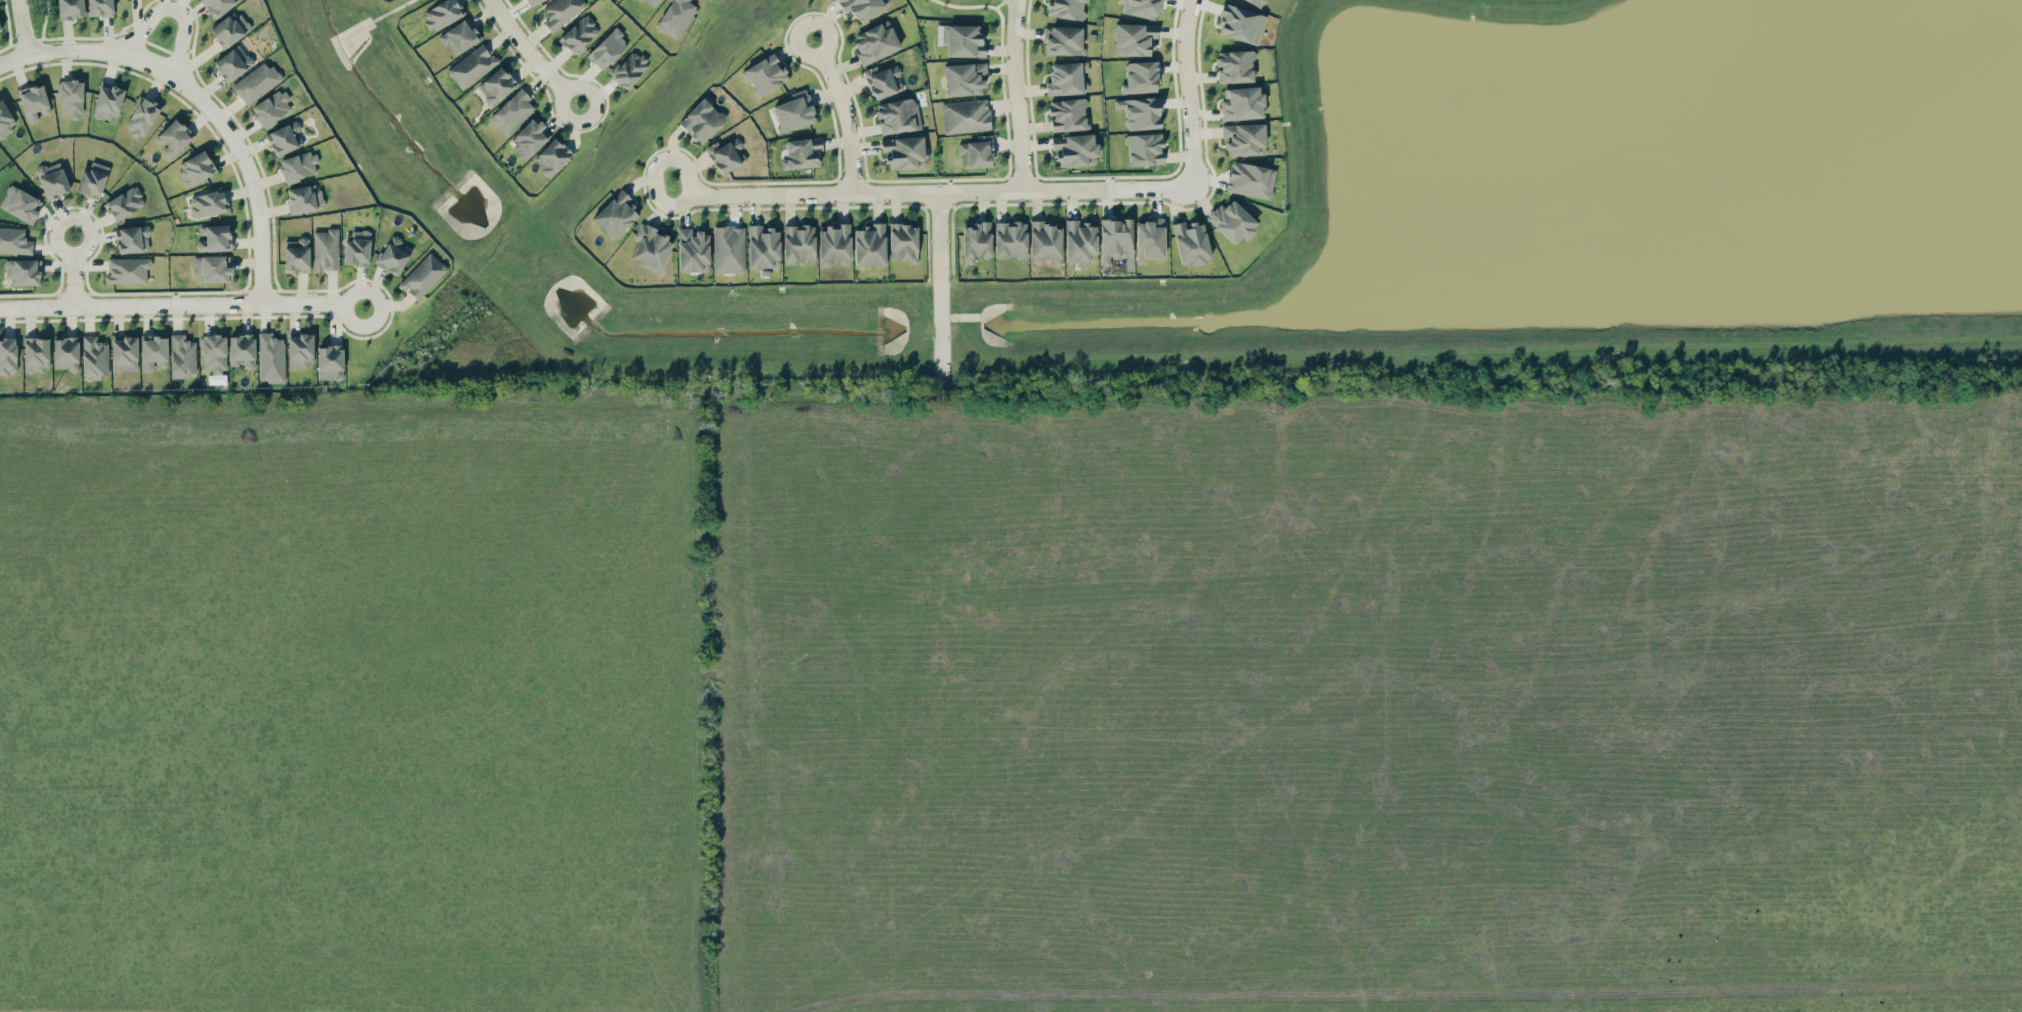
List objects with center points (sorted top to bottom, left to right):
building: (532, 1)
building: (651, 2)
building: (1257, 2)
building: (216, 6)
building: (100, 7)
building: (862, 7)
building: (1066, 8)
building: (1142, 8)
building: (70, 9)
road: (174, 10)
building: (560, 11)
building: (442, 13)
building: (675, 17)
building: (1240, 23)
road: (22, 27)
building: (230, 28)
building: (0, 29)
building: (579, 34)
building: (460, 36)
building: (1133, 38)
building: (961, 39)
building: (1063, 40)
building: (875, 41)
building: (607, 48)
road: (108, 53)
road: (532, 54)
road: (14, 59)
building: (233, 62)
building: (472, 65)
building: (1234, 65)
building: (630, 69)
building: (765, 74)
building: (1066, 77)
building: (1140, 77)
building: (964, 79)
building: (883, 80)
building: (256, 82)
building: (496, 85)
road: (1189, 93)
road: (1018, 94)
building: (71, 97)
building: (108, 101)
building: (33, 102)
building: (1242, 103)
building: (271, 108)
building: (512, 111)
building: (794, 111)
road: (846, 111)
building: (1140, 112)
building: (1068, 114)
building: (895, 115)
building: (142, 116)
building: (965, 116)
building: (702, 120)
building: (5, 121)
building: (174, 137)
building: (285, 137)
building: (1243, 138)
building: (529, 139)
building: (1144, 148)
building: (1075, 150)
building: (903, 152)
building: (976, 152)
building: (802, 153)
building: (726, 154)
building: (552, 156)
building: (298, 166)
road: (655, 166)
building: (195, 167)
building: (52, 179)
building: (92, 179)
building: (1250, 179)
road: (252, 180)
road: (942, 189)
building: (304, 198)
building: (125, 202)
building: (21, 203)
building: (207, 203)
building: (615, 214)
building: (1232, 220)
building: (132, 238)
building: (1115, 238)
building: (1010, 239)
building: (1149, 239)
building: (14, 240)
building: (975, 241)
building: (1045, 241)
building: (903, 242)
building: (1080, 242)
building: (1191, 242)
building: (799, 243)
building: (833, 243)
building: (870, 244)
building: (763, 246)
building: (356, 247)
building: (651, 247)
building: (325, 249)
building: (728, 249)
building: (693, 250)
building: (393, 254)
building: (296, 255)
building: (212, 268)
building: (126, 269)
building: (23, 270)
road: (74, 271)
building: (422, 275)
road: (941, 282)
road: (182, 304)
building: (300, 349)
building: (242, 350)
building: (153, 351)
building: (36, 353)
building: (65, 353)
building: (124, 353)
building: (214, 353)
building: (7, 355)
building: (94, 356)
building: (182, 356)
building: (270, 358)
building: (330, 362)

